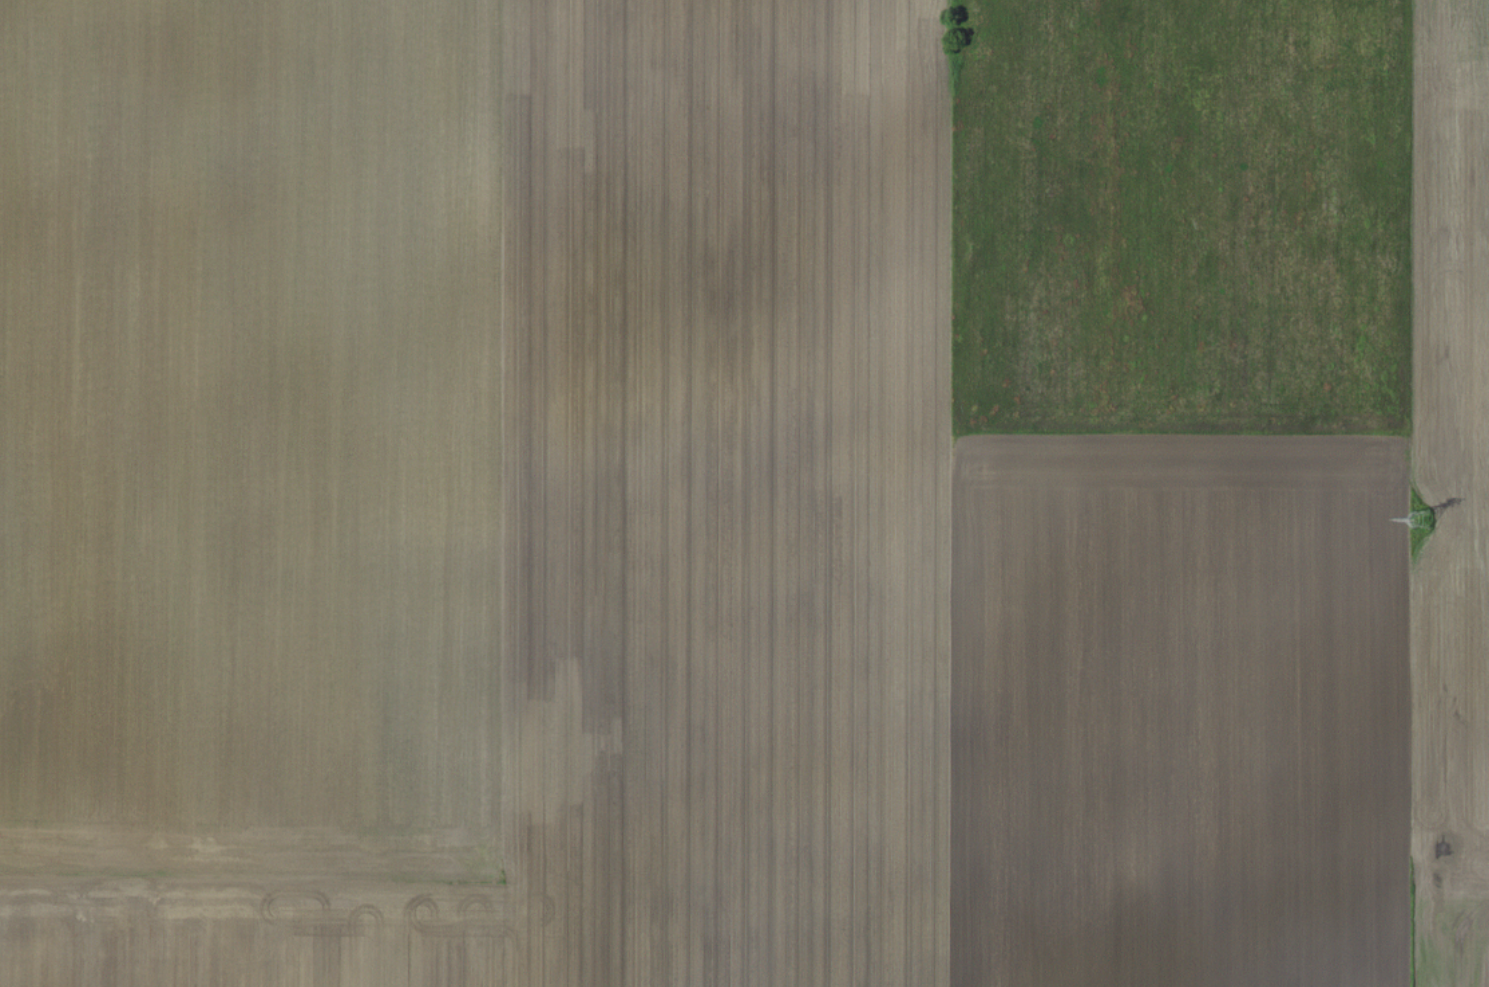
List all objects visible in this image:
power tower: (1418, 519)

